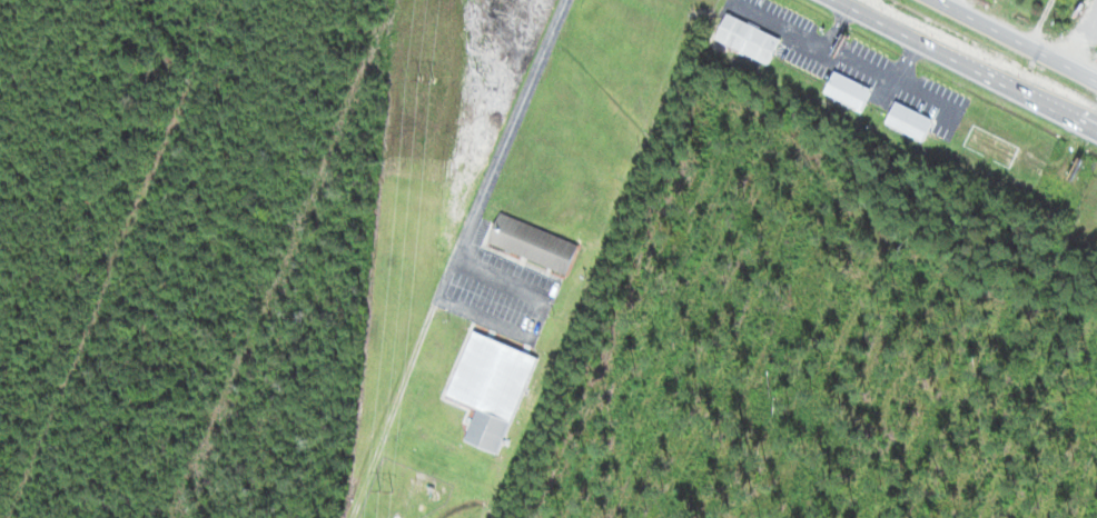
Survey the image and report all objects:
building: (745, 38)
road: (1015, 41)
road: (965, 67)
power tower: (425, 81)
building: (846, 90)
building: (908, 122)
building: (532, 241)
building: (488, 385)
power tower: (385, 490)

